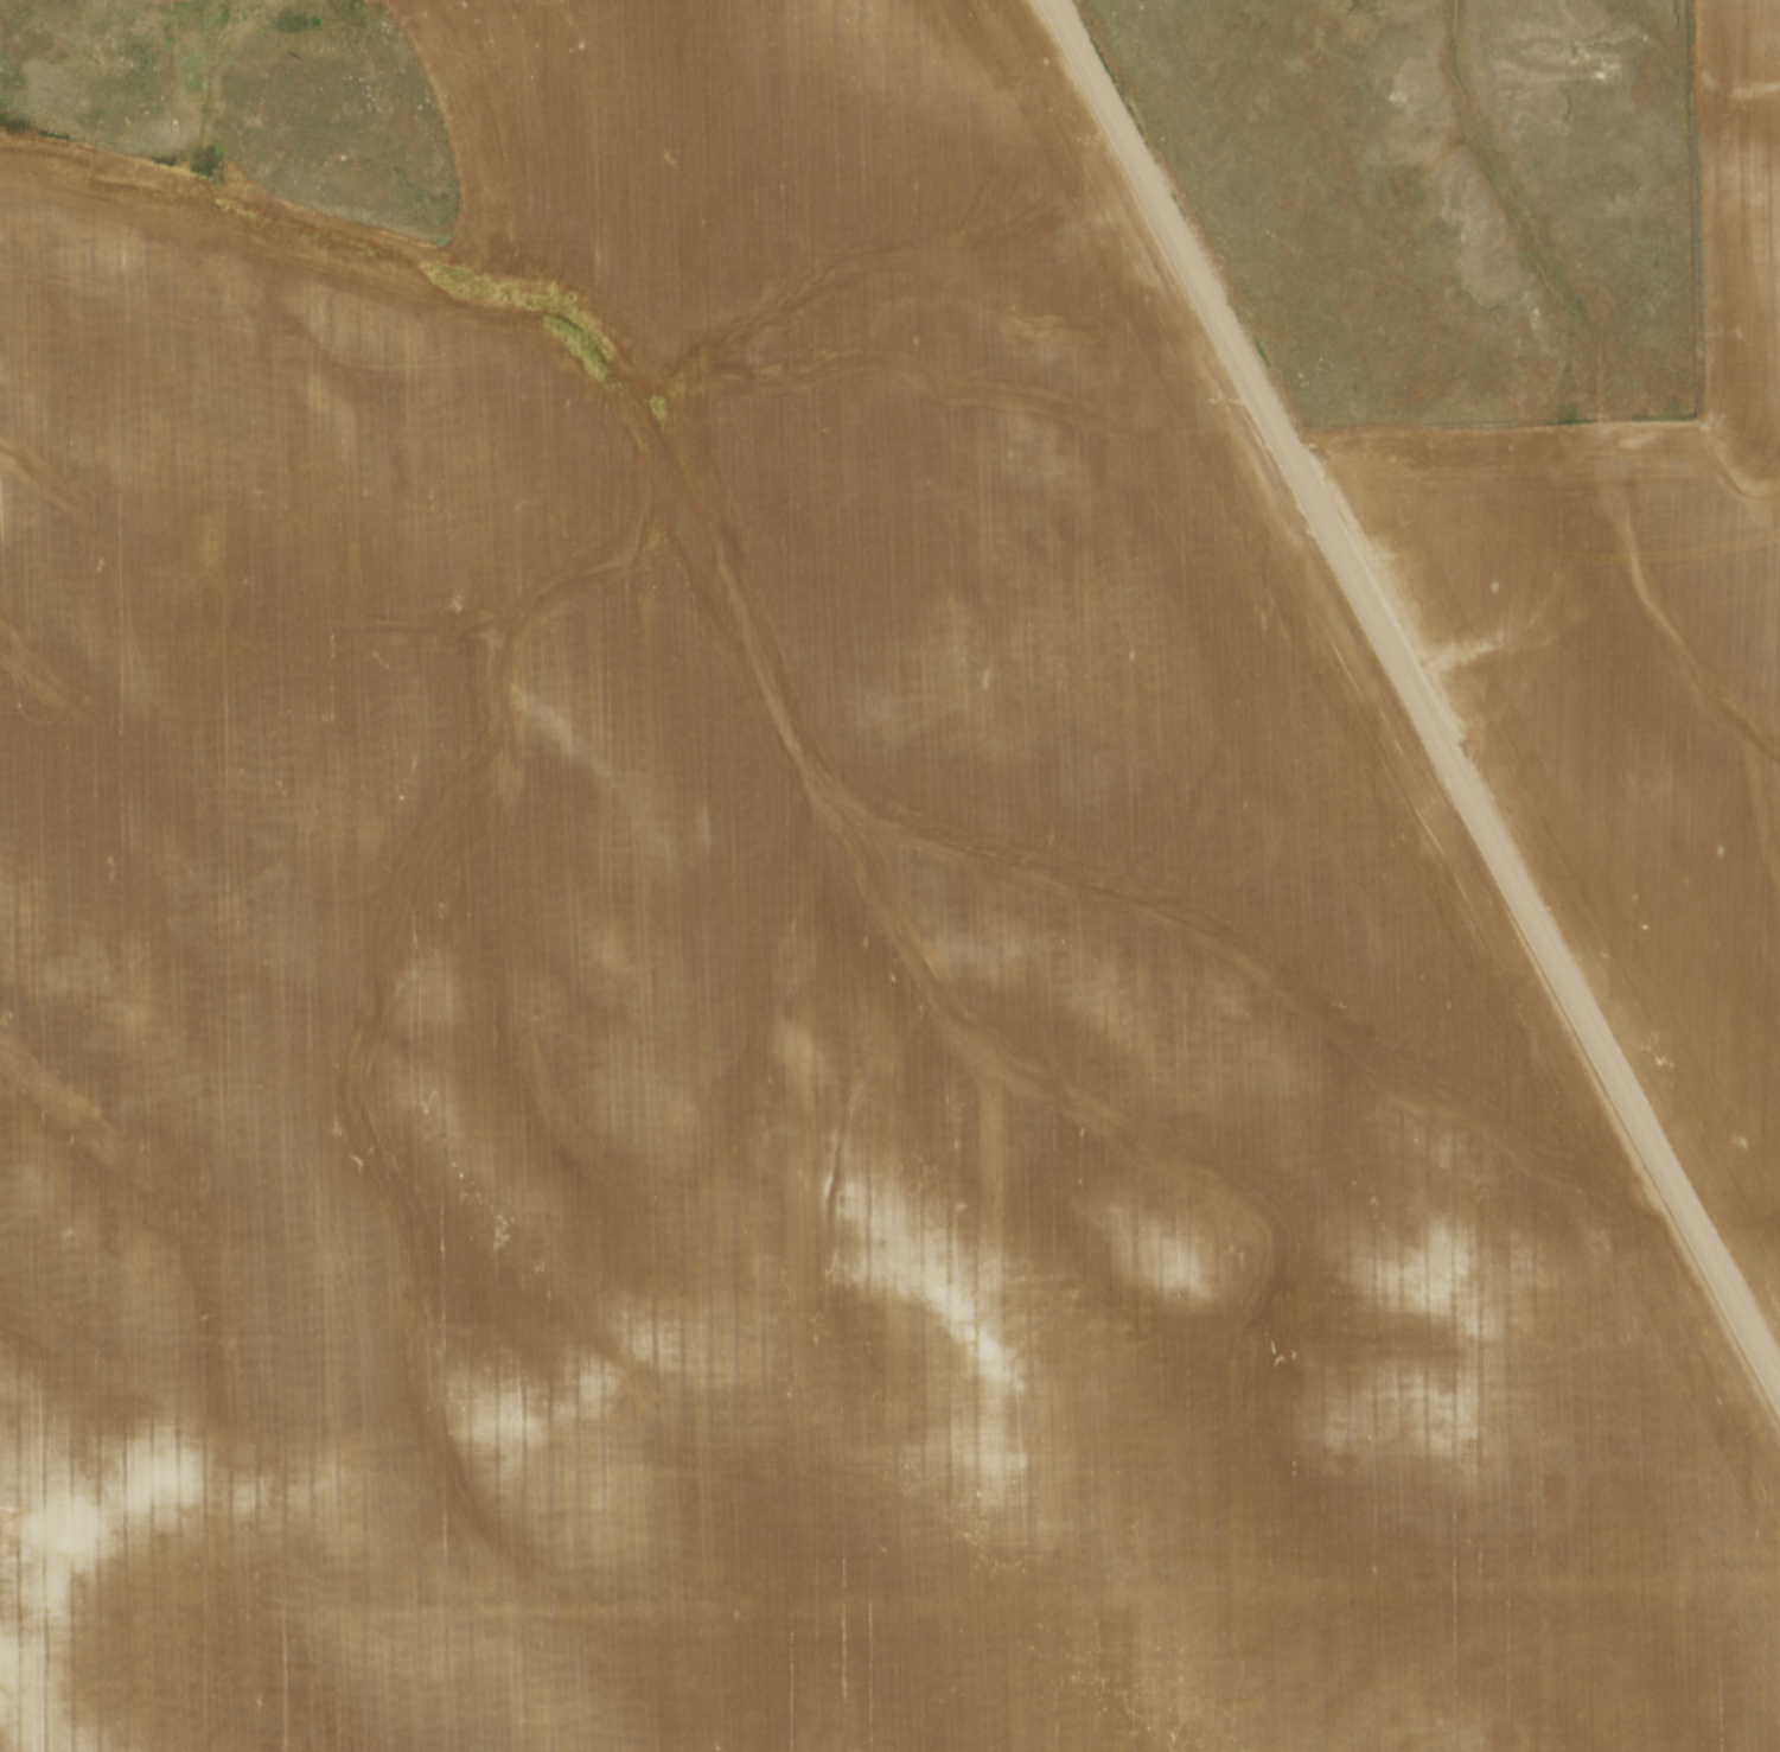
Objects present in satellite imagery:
crop: (1640, 657)
road: (1414, 694)
crop: (771, 987)

